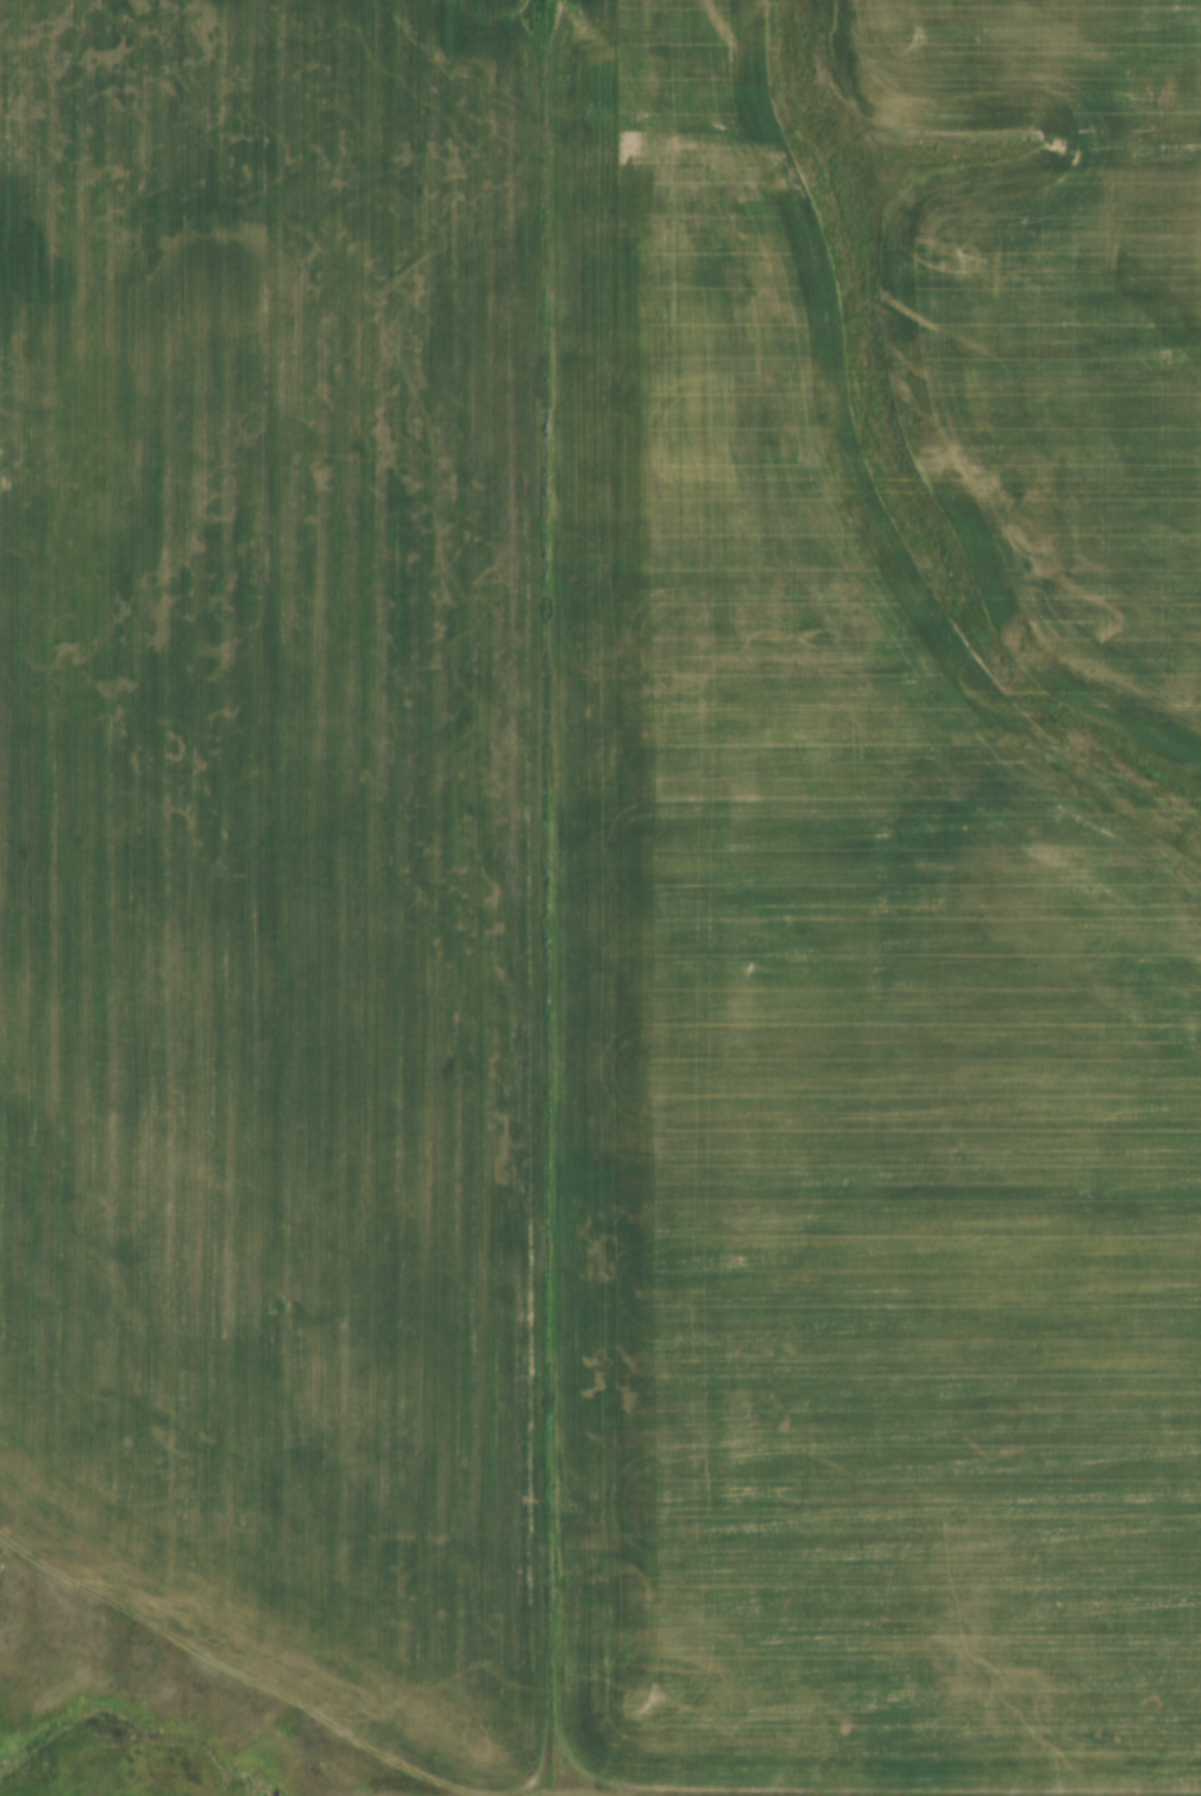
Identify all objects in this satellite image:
road: (523, 1791)
road: (510, 1794)

